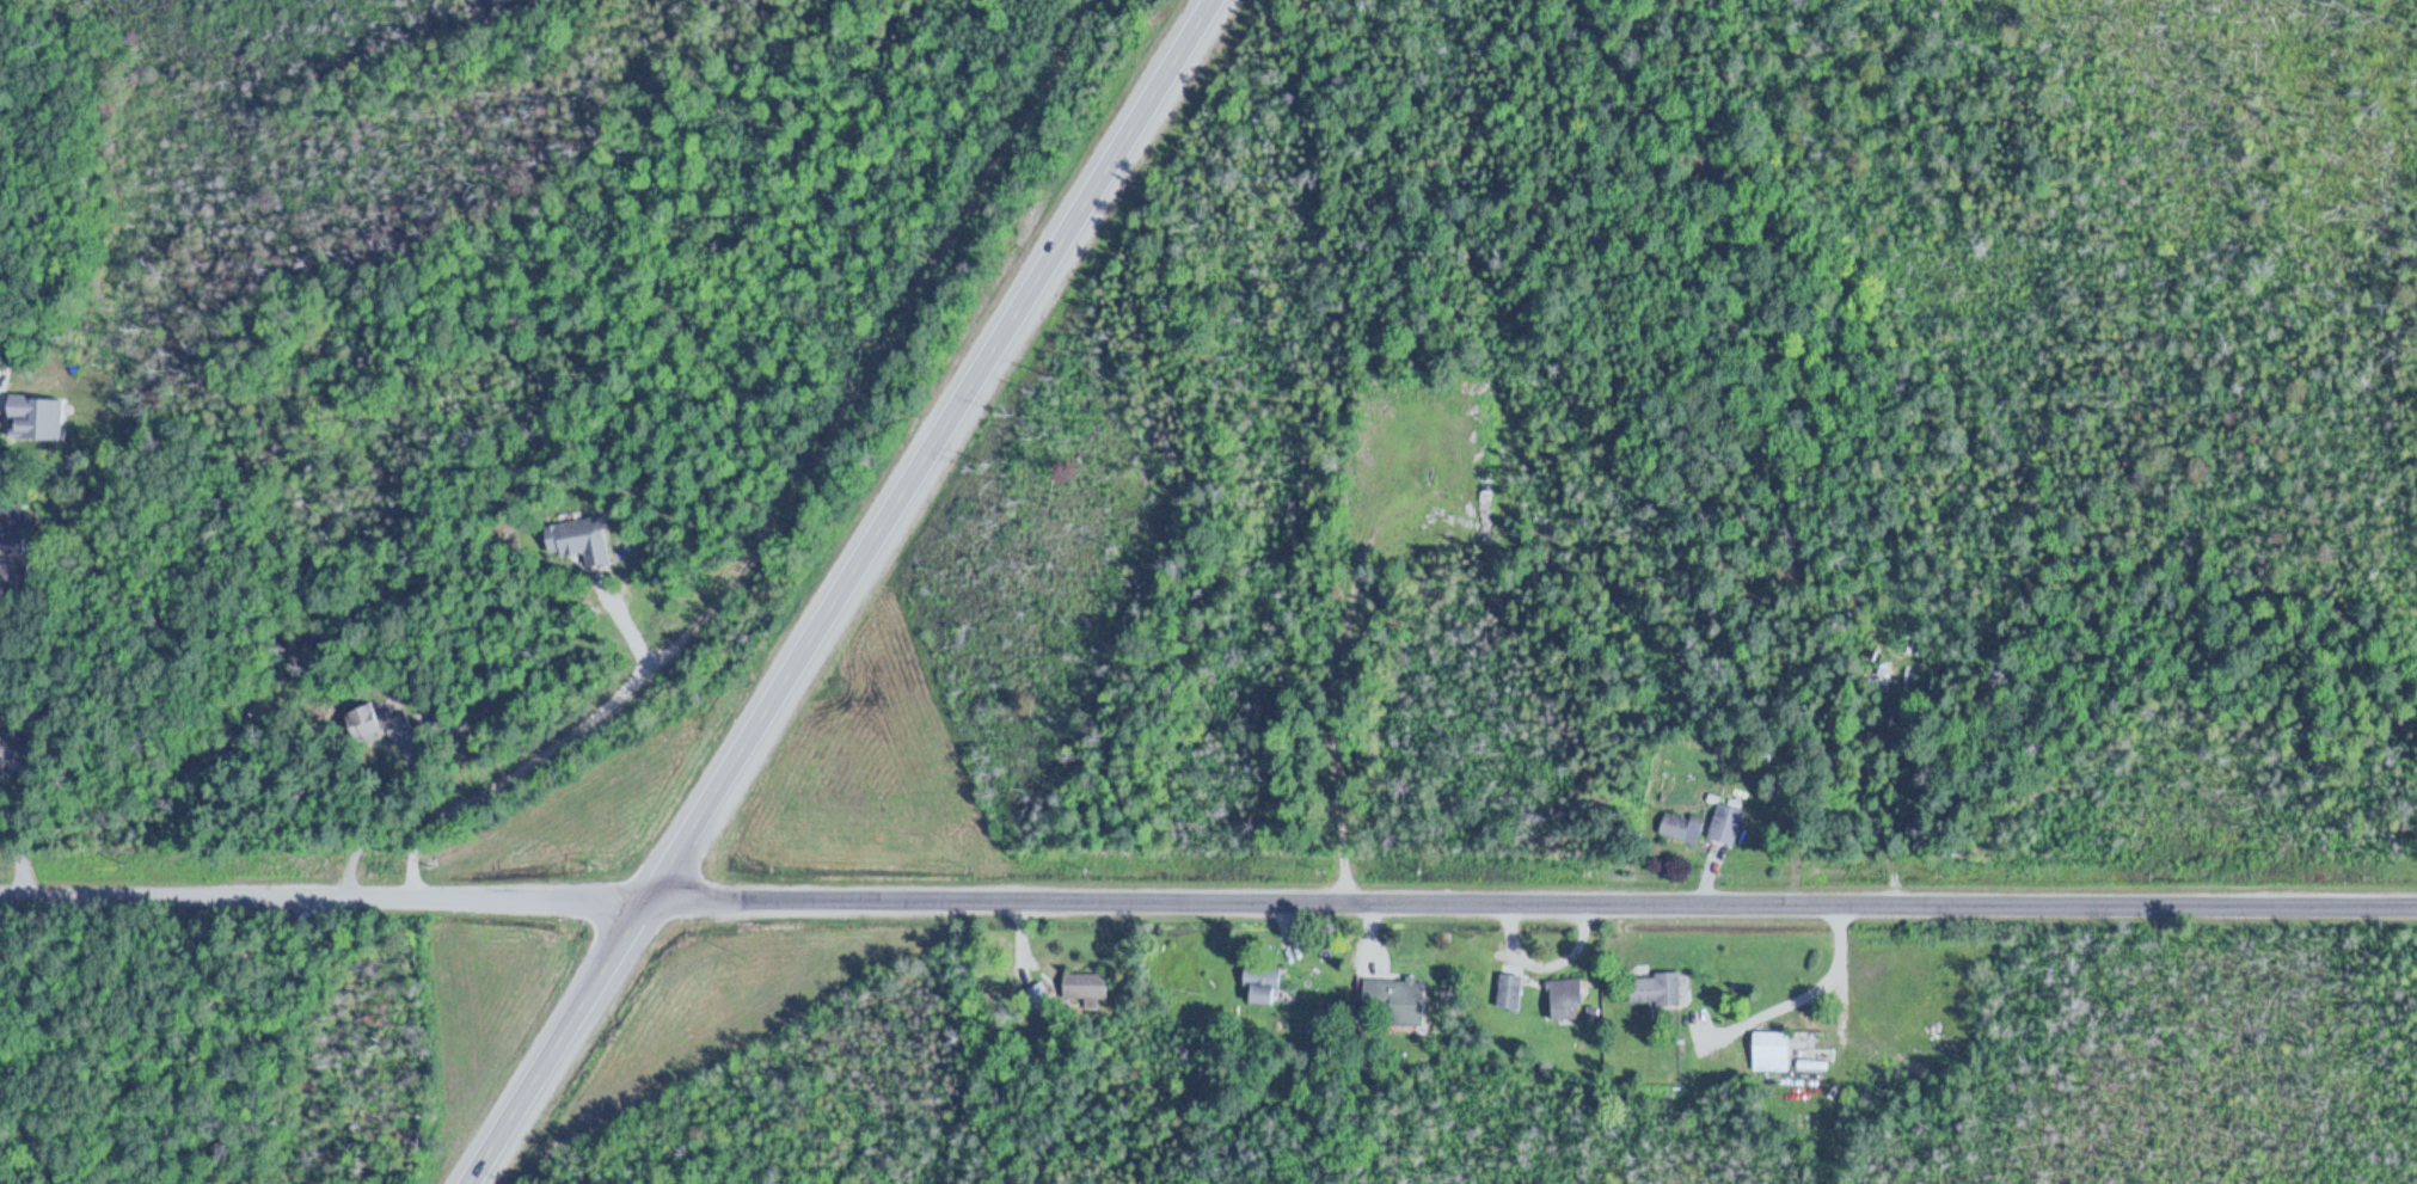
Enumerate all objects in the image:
building: (39, 418)
building: (584, 540)
building: (17, 562)
road: (840, 591)
building: (385, 725)
building: (17, 754)
road: (529, 760)
building: (1729, 823)
building: (1683, 827)
road: (1208, 906)
building: (1263, 981)
building: (1087, 983)
building: (1657, 988)
building: (1513, 989)
building: (1038, 995)
road: (129, 996)
building: (1398, 998)
building: (1570, 998)
road: (1845, 1045)
building: (1774, 1049)

